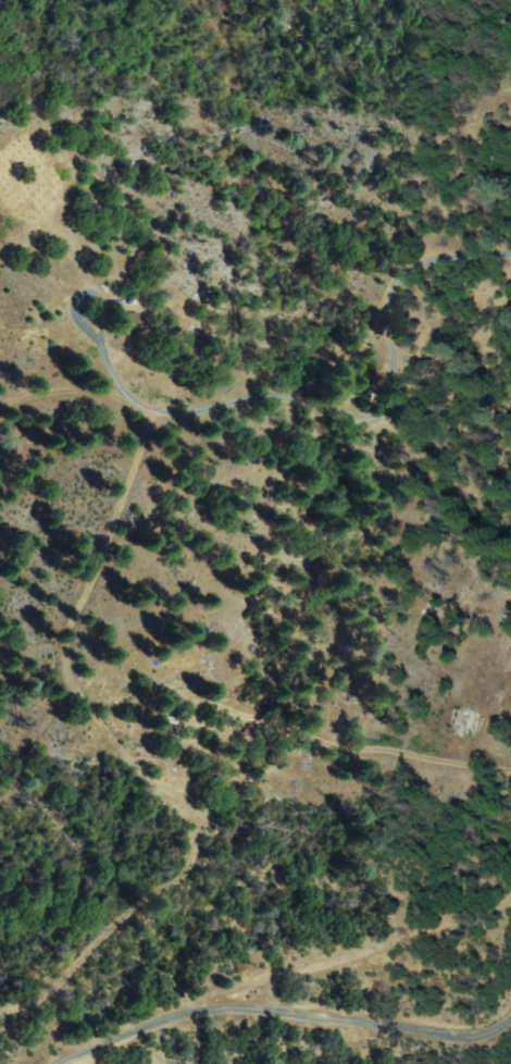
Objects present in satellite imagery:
building: (172, 705)
building: (164, 706)
building: (173, 722)
road: (275, 973)

